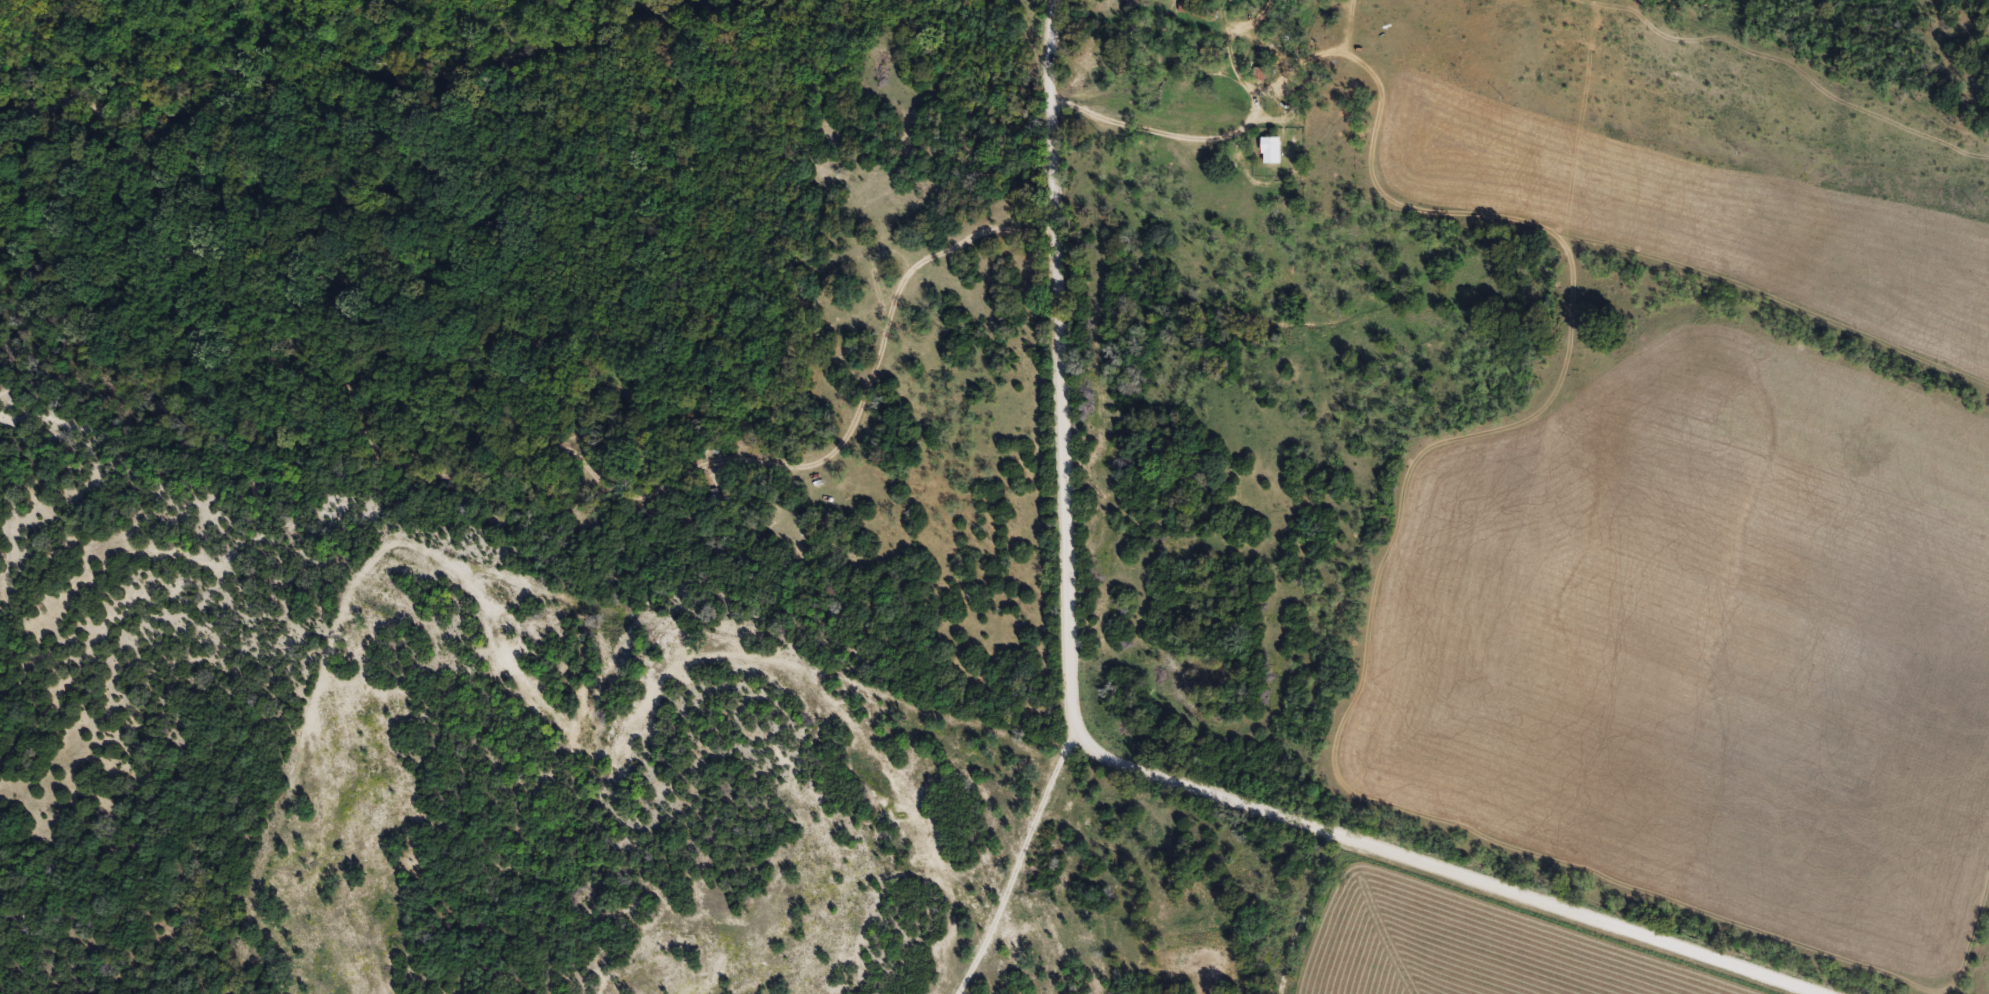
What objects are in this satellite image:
road: (1042, 56)
building: (1272, 151)
road: (1130, 772)
building: (938, 833)

